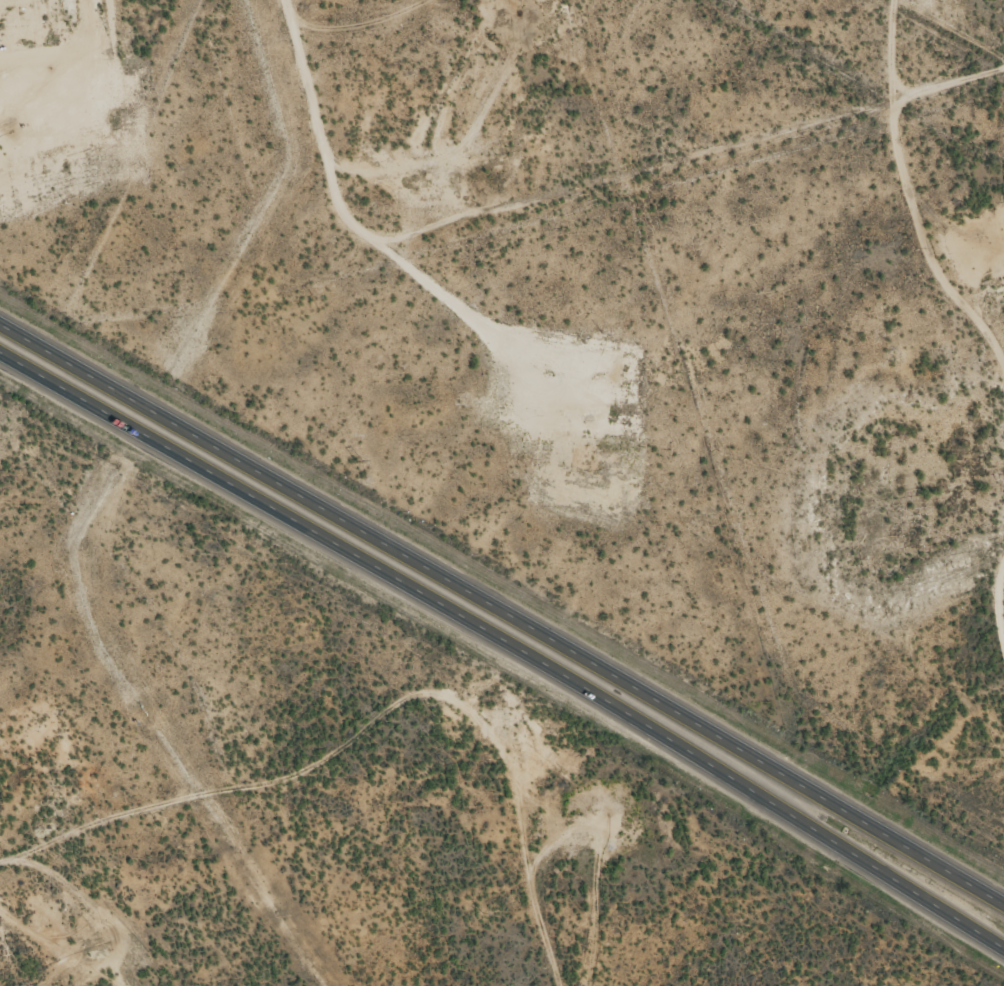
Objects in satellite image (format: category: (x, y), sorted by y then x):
road: (503, 612)
road: (507, 643)
road: (406, 702)

